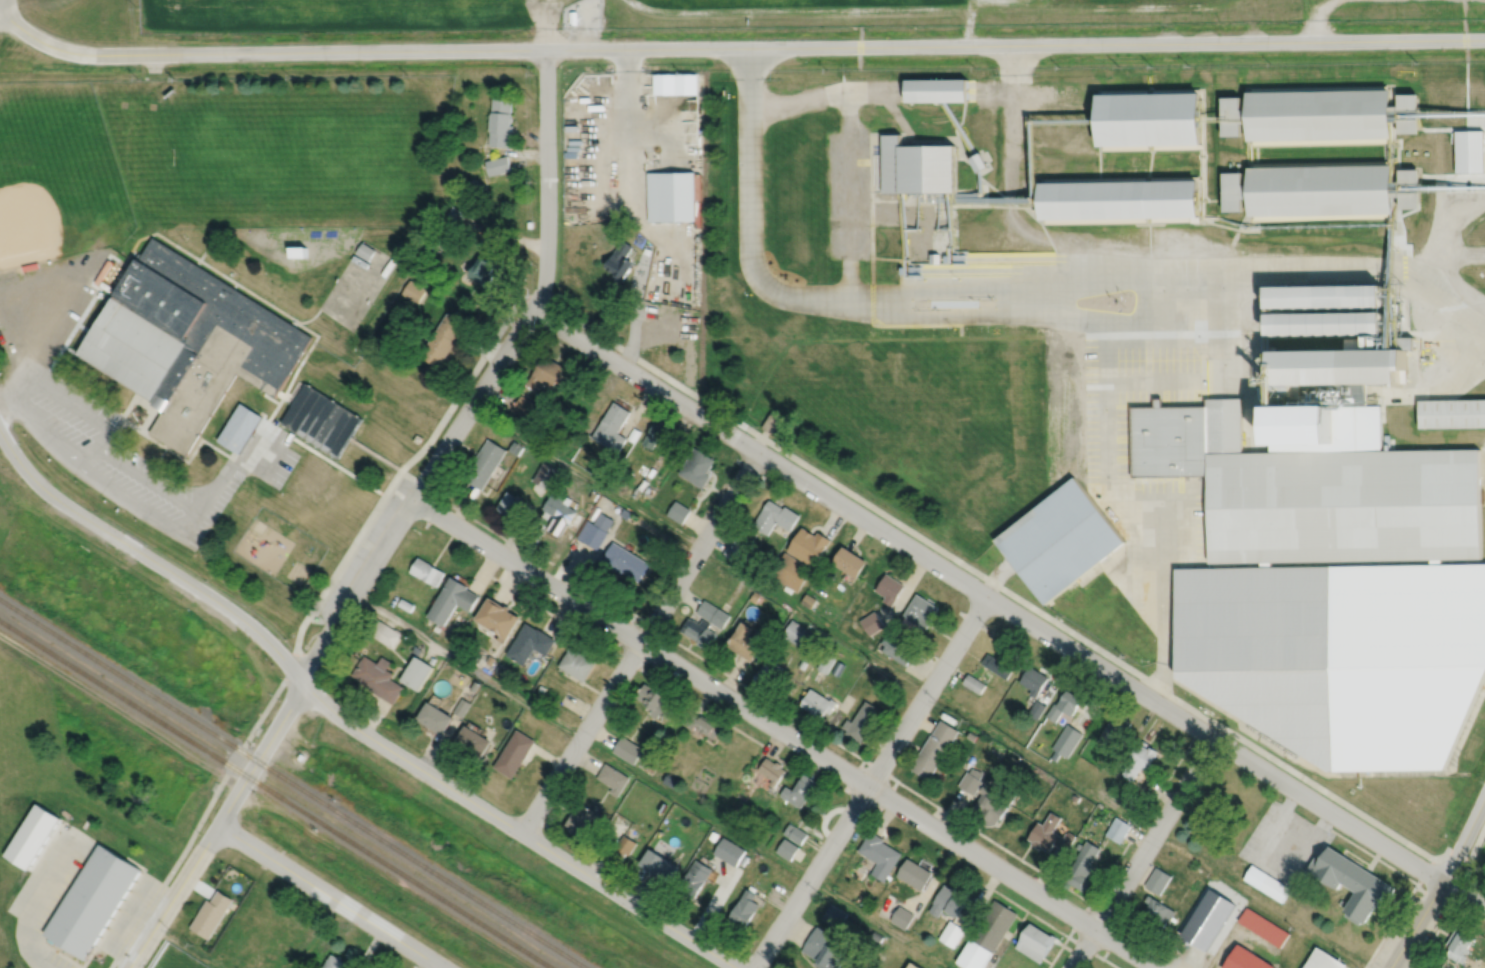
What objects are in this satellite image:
road: (1321, 2)
road: (1324, 2)
road: (1094, 7)
road: (815, 11)
building: (572, 16)
road: (1314, 21)
road: (544, 24)
road: (1464, 41)
road: (736, 47)
building: (1480, 66)
building: (1434, 68)
building: (935, 89)
road: (822, 97)
building: (1403, 112)
building: (1317, 113)
building: (1232, 115)
building: (1148, 117)
building: (499, 122)
building: (1468, 150)
park: (297, 157)
building: (976, 162)
building: (496, 165)
building: (916, 166)
park: (57, 175)
road: (1445, 177)
building: (476, 186)
building: (1405, 188)
building: (1319, 190)
building: (1233, 191)
road: (850, 193)
building: (670, 196)
road: (1003, 197)
building: (1117, 199)
road: (943, 203)
road: (1011, 203)
road: (871, 208)
building: (455, 215)
building: (480, 215)
road: (143, 236)
building: (297, 251)
building: (365, 251)
building: (933, 258)
building: (619, 260)
building: (29, 267)
building: (482, 269)
road: (1011, 290)
building: (413, 291)
park: (351, 293)
road: (635, 295)
road: (1223, 295)
building: (1322, 297)
road: (65, 317)
road: (308, 319)
road: (1201, 319)
building: (1323, 325)
road: (1451, 339)
building: (442, 340)
building: (187, 341)
road: (1105, 362)
building: (1339, 370)
building: (544, 373)
road: (1153, 382)
road: (299, 383)
road: (1438, 392)
road: (282, 395)
road: (270, 397)
road: (291, 401)
building: (522, 406)
road: (153, 410)
building: (1451, 414)
building: (321, 420)
building: (772, 423)
building: (610, 428)
building: (1357, 428)
building: (239, 429)
road: (118, 431)
building: (1302, 432)
road: (44, 434)
building: (632, 435)
building: (655, 435)
building: (1183, 438)
parking lot: (1107, 440)
building: (515, 448)
parking lot: (112, 454)
road: (155, 462)
building: (484, 464)
building: (696, 468)
road: (145, 476)
road: (114, 489)
building: (592, 495)
building: (1343, 505)
building: (511, 508)
building: (678, 512)
building: (624, 514)
building: (567, 517)
building: (774, 518)
road: (396, 525)
building: (594, 531)
building: (1058, 540)
building: (808, 547)
parking lot: (361, 552)
building: (737, 552)
building: (622, 561)
building: (850, 562)
building: (790, 571)
building: (426, 573)
road: (997, 585)
building: (890, 588)
building: (755, 596)
building: (451, 600)
building: (808, 600)
building: (405, 604)
building: (917, 612)
road: (1007, 612)
road: (309, 613)
building: (712, 613)
building: (496, 616)
building: (872, 622)
building: (436, 628)
building: (382, 631)
building: (698, 631)
road: (622, 633)
building: (797, 633)
road: (586, 636)
building: (745, 640)
building: (528, 642)
road: (640, 642)
building: (896, 648)
building: (416, 649)
building: (810, 651)
building: (1339, 653)
building: (489, 660)
building: (826, 661)
building: (576, 663)
building: (802, 663)
building: (996, 665)
building: (499, 669)
building: (416, 672)
building: (767, 672)
building: (378, 677)
building: (881, 677)
building: (1033, 679)
building: (973, 683)
building: (474, 686)
building: (540, 688)
road: (926, 691)
building: (654, 700)
building: (817, 703)
road: (774, 705)
building: (1063, 705)
building: (461, 707)
building: (1035, 708)
road: (704, 709)
building: (435, 717)
road: (349, 721)
building: (863, 721)
building: (700, 723)
building: (1114, 729)
road: (784, 733)
building: (970, 735)
building: (1066, 740)
building: (472, 741)
building: (627, 749)
building: (933, 749)
building: (512, 753)
building: (1054, 755)
building: (299, 756)
building: (1139, 760)
building: (771, 770)
building: (612, 778)
building: (670, 780)
building: (970, 780)
road: (649, 782)
railway: (293, 783)
road: (870, 783)
building: (799, 790)
railway: (275, 793)
building: (1074, 797)
building: (990, 804)
building: (674, 809)
building: (731, 818)
building: (579, 820)
building: (1117, 829)
building: (794, 833)
building: (1049, 834)
building: (31, 836)
building: (713, 836)
road: (1464, 839)
parking lot: (1284, 843)
building: (1077, 845)
building: (622, 848)
building: (787, 849)
road: (1474, 850)
building: (729, 851)
road: (1142, 853)
building: (880, 854)
road: (1370, 854)
road: (1275, 860)
building: (658, 865)
building: (1081, 866)
park: (1477, 873)
building: (914, 874)
building: (694, 879)
building: (1157, 880)
building: (1267, 883)
building: (1352, 883)
parking lot: (65, 884)
road: (330, 896)
road: (36, 898)
building: (92, 901)
building: (945, 901)
building: (866, 902)
road: (1448, 906)
building: (744, 910)
building: (1157, 911)
building: (210, 914)
building: (834, 916)
building: (903, 918)
building: (1207, 919)
road: (1414, 924)
building: (992, 925)
building: (1263, 926)
road: (1390, 927)
building: (951, 934)
road: (1141, 935)
building: (288, 939)
railway: (574, 939)
road: (1113, 941)
building: (1034, 942)
road: (1076, 942)
building: (1457, 946)
road: (186, 947)
building: (823, 950)
road: (156, 952)
building: (973, 955)
building: (1245, 959)
parking lot: (57, 960)
building: (1323, 960)
building: (333, 963)
road: (436, 966)
building: (913, 966)

